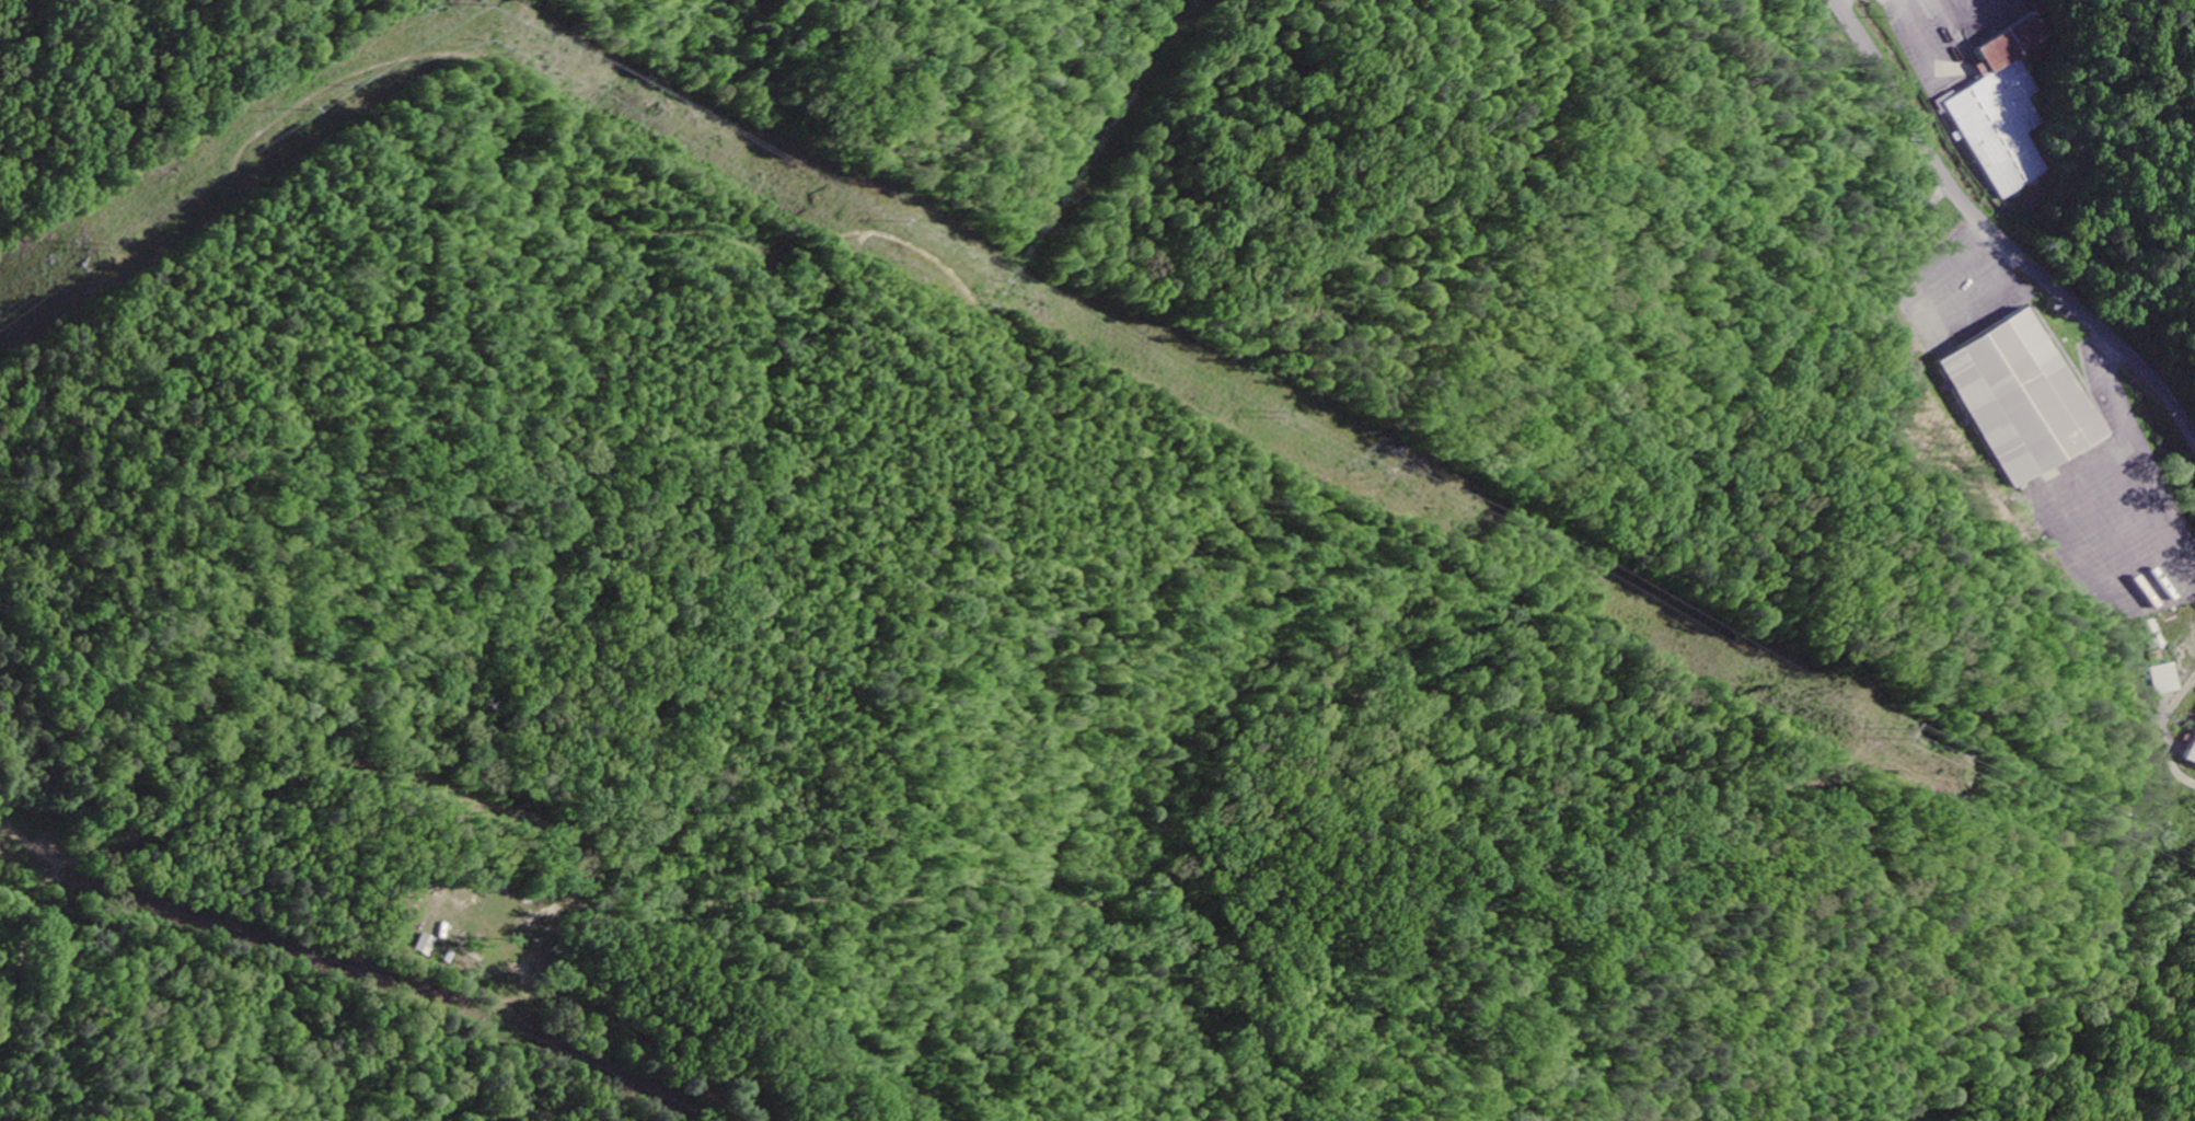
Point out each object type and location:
building: (2006, 113)
road: (2003, 240)
building: (2030, 401)
building: (2169, 680)
building: (2194, 761)
road: (396, 1087)

